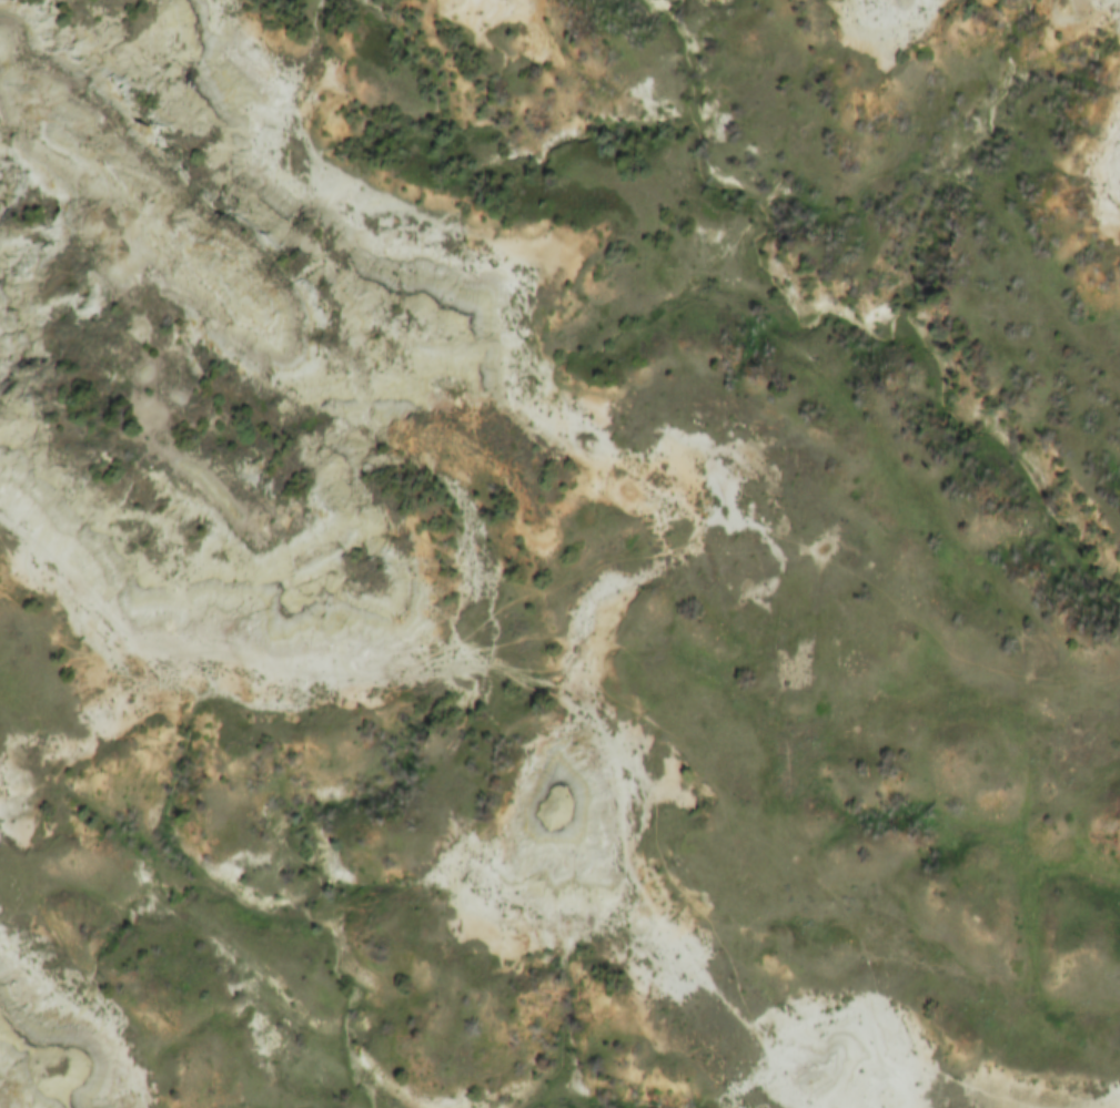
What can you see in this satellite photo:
road: (526, 671)

